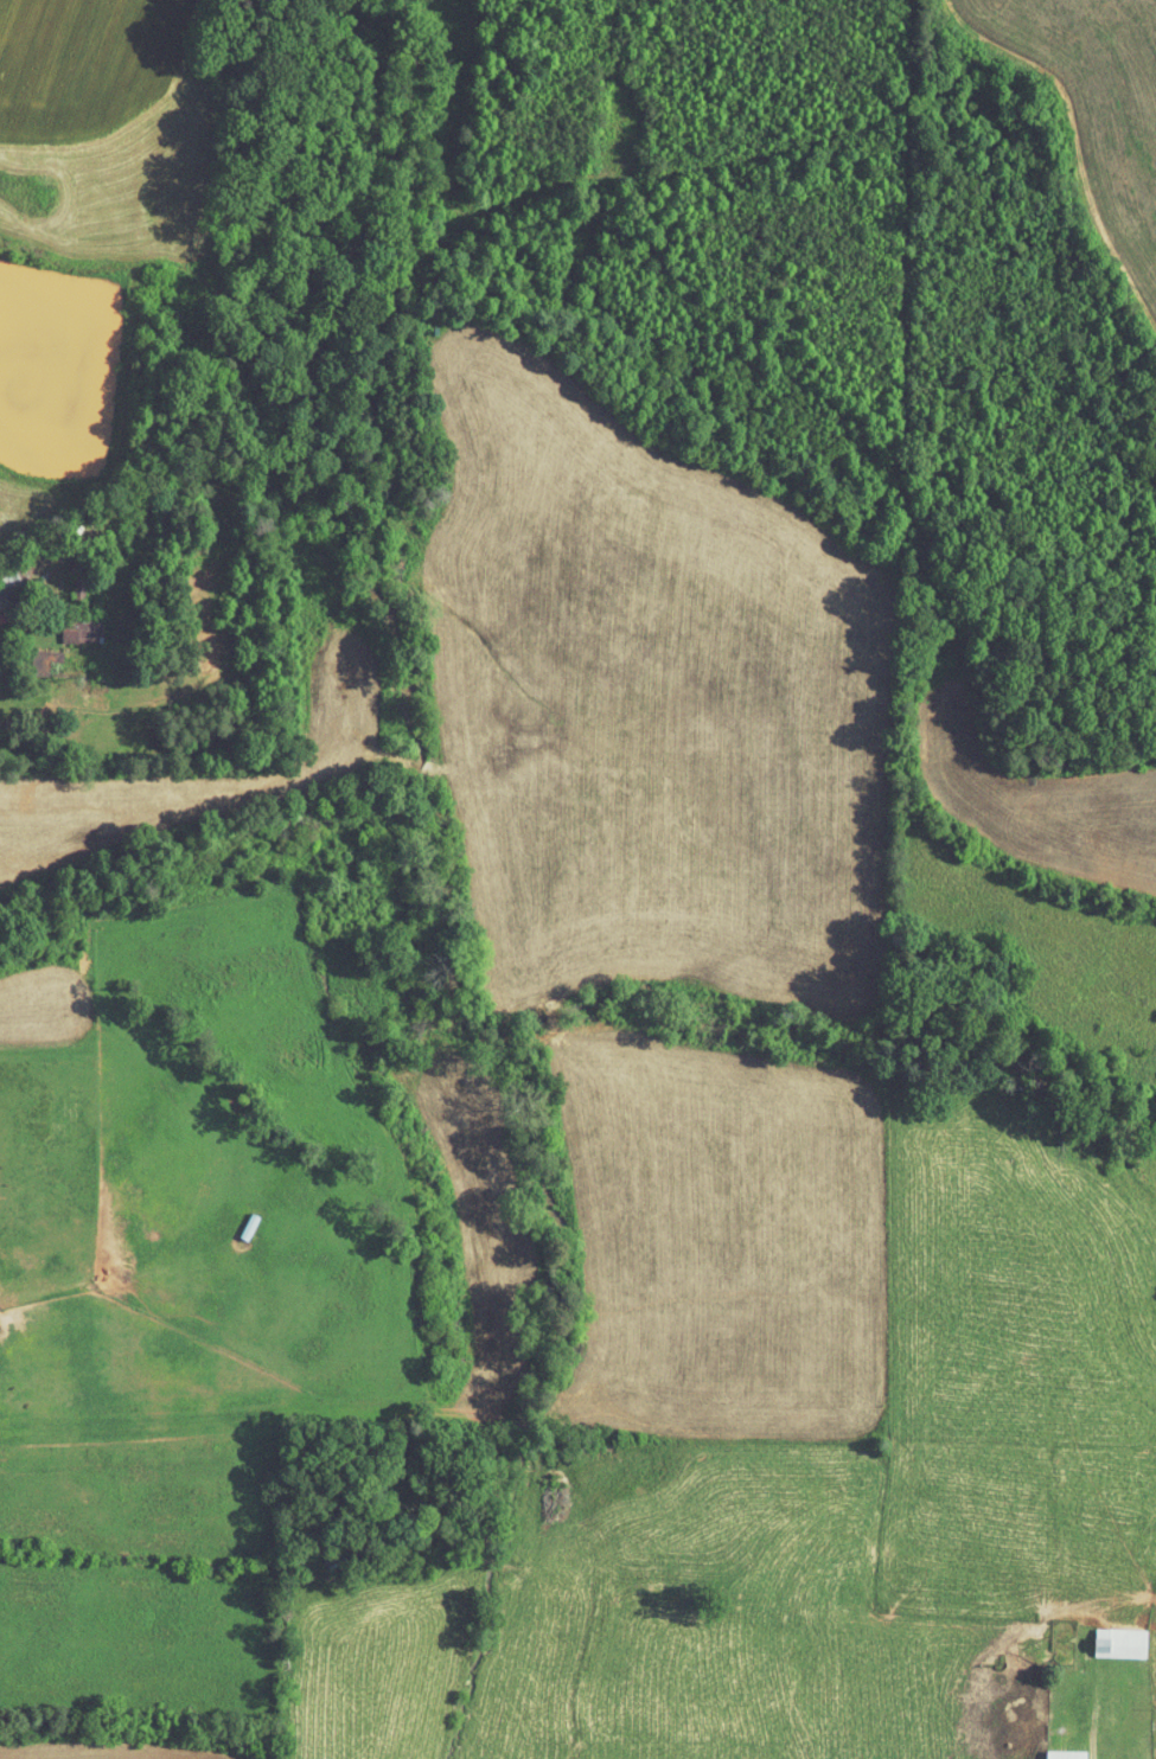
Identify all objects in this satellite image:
building: (69, 623)
building: (34, 655)
building: (1109, 1635)
building: (1054, 1751)

